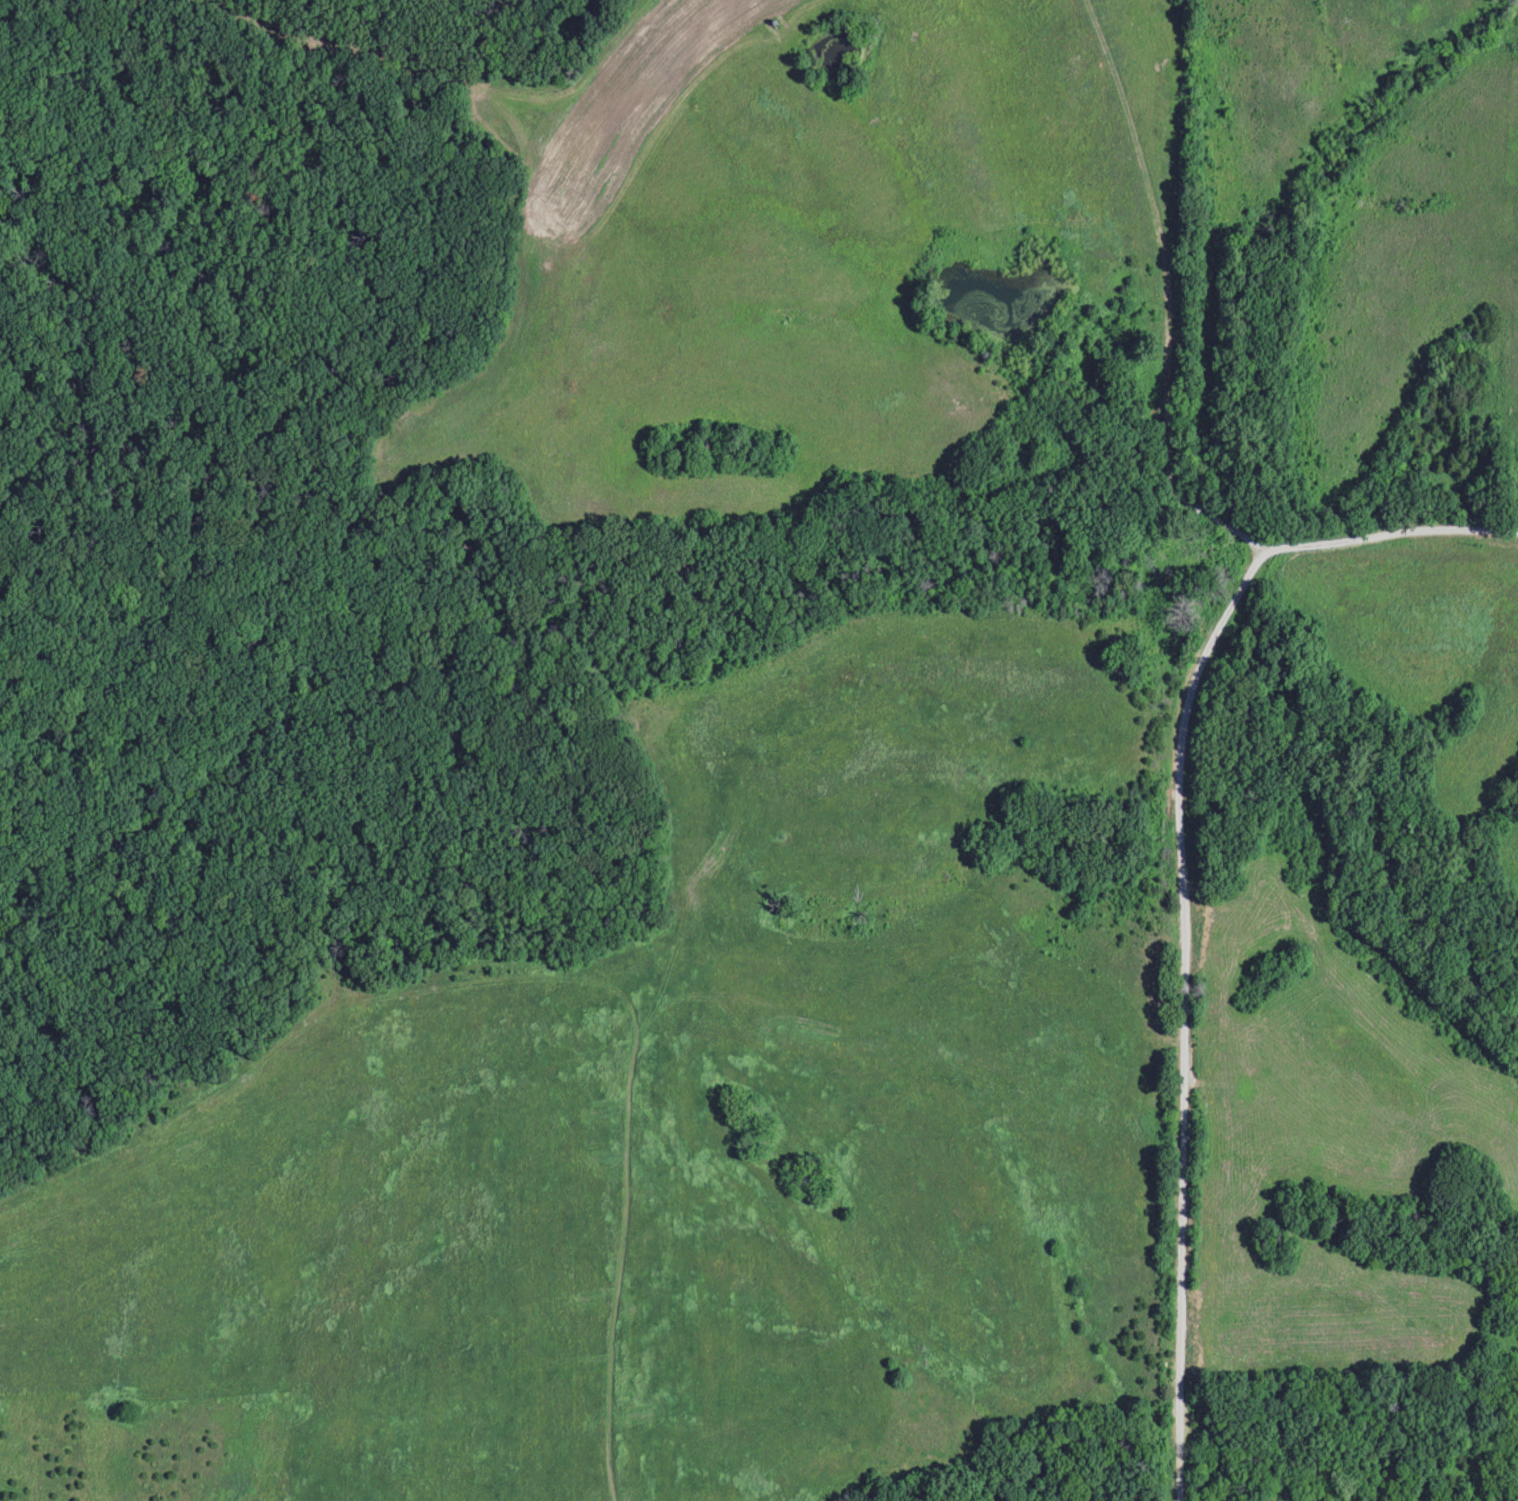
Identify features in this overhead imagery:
road: (1282, 547)
road: (1179, 1126)

